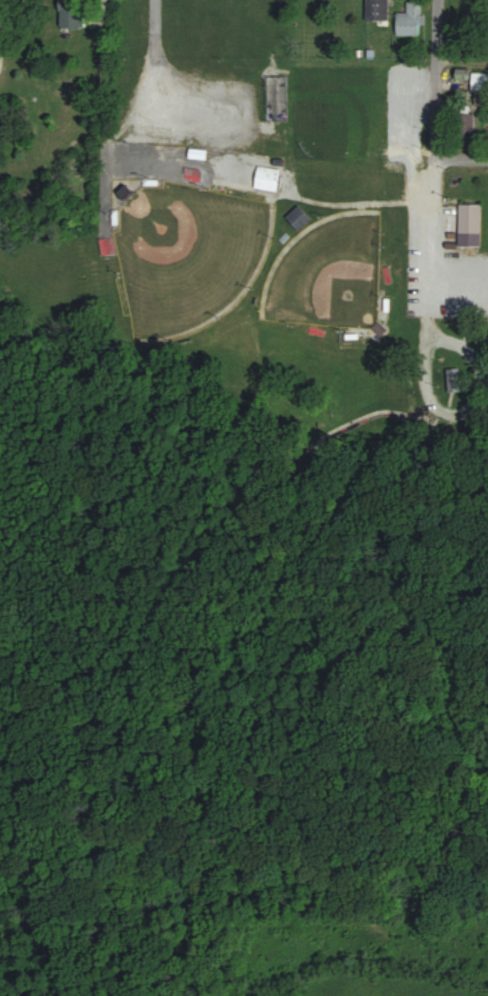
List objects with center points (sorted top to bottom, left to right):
building: (379, 10)
building: (74, 13)
building: (411, 19)
road: (461, 60)
road: (435, 77)
building: (481, 89)
road: (163, 103)
building: (469, 121)
road: (462, 156)
building: (269, 179)
building: (300, 218)
building: (472, 225)
park: (187, 255)
park: (329, 273)
road: (427, 358)

